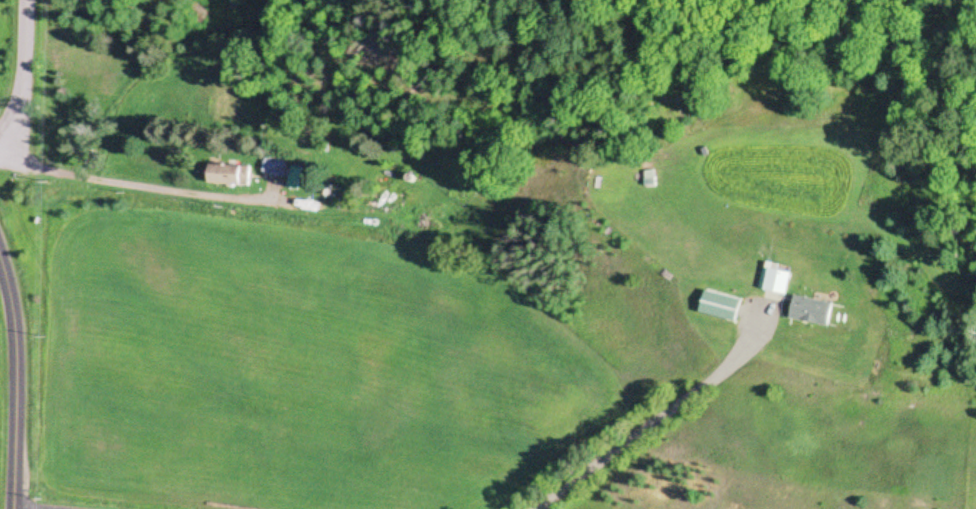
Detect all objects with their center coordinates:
road: (20, 74)
road: (133, 187)
road: (14, 390)
road: (651, 427)

